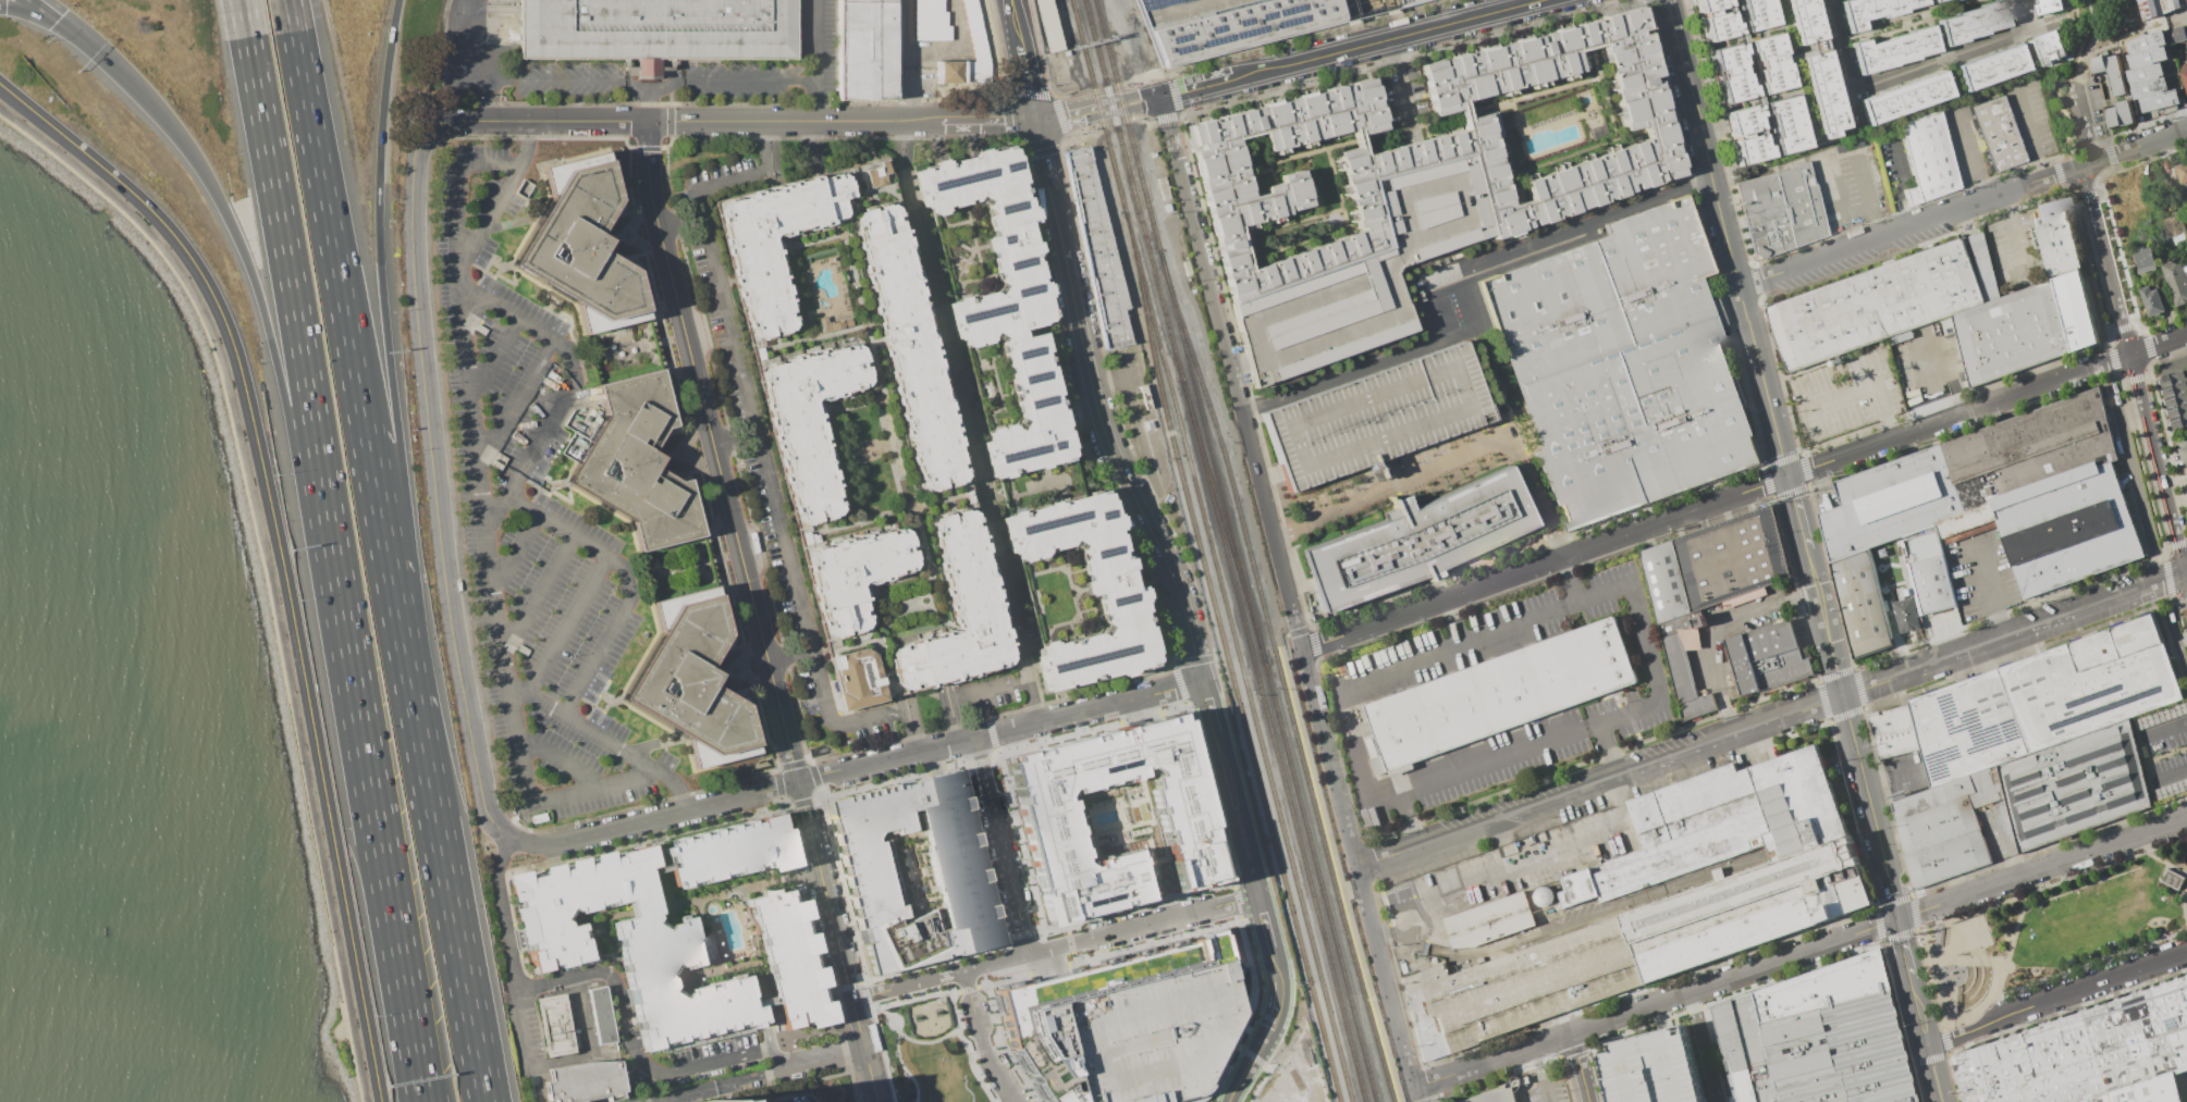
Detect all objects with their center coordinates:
building: (1933, 0)
parking lot: (2186, 0)
building: (1708, 4)
building: (2050, 5)
building: (2161, 8)
road: (45, 9)
building: (1870, 10)
road: (28, 11)
road: (2092, 13)
building: (1754, 14)
road: (2068, 14)
road: (2179, 14)
road: (2028, 15)
traffic signals: (58, 18)
road: (1910, 20)
building: (930, 21)
building: (1802, 21)
building: (1970, 22)
building: (1244, 23)
road: (1013, 24)
building: (1047, 25)
building: (1717, 26)
building: (656, 28)
building: (975, 30)
building: (2175, 35)
road: (1678, 37)
road: (1385, 39)
building: (2147, 41)
road: (2091, 44)
building: (2045, 47)
road: (96, 48)
building: (1893, 49)
building: (864, 50)
road: (1955, 55)
building: (2146, 57)
road: (815, 60)
building: (1767, 61)
road: (1845, 61)
building: (2098, 64)
building: (1989, 65)
road: (2123, 65)
building: (1728, 73)
building: (2145, 73)
building: (2114, 75)
building: (2183, 76)
road: (612, 78)
road: (1027, 83)
road: (1195, 85)
building: (2148, 87)
road: (1400, 90)
road: (1605, 91)
building: (1821, 91)
road: (908, 96)
building: (1904, 97)
road: (486, 99)
building: (2159, 100)
road: (1131, 101)
road: (1925, 108)
road: (1069, 113)
building: (2124, 113)
building: (1462, 114)
building: (2113, 116)
road: (1434, 119)
road: (1600, 119)
road: (987, 120)
traffic signals: (1034, 120)
building: (1741, 120)
road: (538, 121)
road: (794, 121)
road: (1549, 123)
railway: (1127, 125)
building: (1782, 125)
road: (2085, 126)
road: (1168, 131)
road: (2141, 133)
road: (2031, 134)
building: (1998, 135)
building: (1357, 143)
road: (1254, 146)
building: (1433, 146)
building: (1747, 149)
road: (1417, 153)
road: (1844, 153)
road: (1040, 156)
road: (1969, 157)
building: (1928, 160)
road: (1545, 162)
road: (1258, 170)
road: (752, 172)
building: (2182, 172)
road: (1273, 174)
road: (1250, 179)
road: (1336, 185)
road: (1897, 185)
road: (1316, 191)
road: (501, 199)
railway: (1135, 201)
road: (1964, 209)
building: (1781, 211)
road: (327, 223)
road: (1344, 224)
road: (1056, 225)
building: (2174, 228)
building: (2056, 236)
road: (2014, 237)
road: (1243, 240)
building: (581, 246)
road: (1250, 248)
building: (1097, 250)
road: (2104, 259)
building: (2145, 260)
building: (2186, 270)
building: (1366, 273)
parking garage: (1366, 273)
road: (1738, 274)
building: (2175, 282)
road: (1460, 287)
building: (2149, 300)
building: (1884, 302)
road: (294, 307)
building: (2077, 310)
road: (683, 329)
building: (2012, 333)
road: (268, 335)
road: (385, 340)
road: (494, 360)
building: (1624, 366)
road: (1945, 375)
road: (1494, 382)
road: (1863, 383)
road: (572, 389)
building: (2176, 396)
road: (959, 400)
road: (515, 403)
road: (1239, 408)
building: (1379, 416)
parking lot: (1379, 416)
building: (1031, 424)
building: (863, 432)
railway: (1206, 437)
building: (2183, 448)
road: (764, 457)
railway: (1225, 459)
building: (636, 462)
road: (2158, 462)
road: (1452, 463)
building: (2186, 465)
parking lot: (1425, 468)
road: (1120, 473)
traffic signals: (1790, 476)
road: (2155, 480)
road: (432, 486)
road: (1744, 493)
building: (2047, 494)
building: (1891, 504)
railway: (1220, 513)
road: (1798, 515)
parking lot: (530, 516)
road: (484, 518)
building: (1423, 540)
road: (278, 547)
railway: (1211, 550)
road: (515, 555)
road: (266, 562)
road: (389, 565)
building: (1716, 565)
building: (1920, 570)
road: (626, 584)
road: (1988, 589)
road: (538, 596)
building: (1863, 605)
building: (1908, 616)
building: (1681, 624)
road: (567, 626)
road: (1311, 630)
road: (1485, 635)
railway: (1282, 647)
road: (1286, 647)
road: (1644, 651)
road: (790, 656)
road: (766, 658)
railway: (1227, 660)
building: (1768, 660)
building: (690, 680)
building: (1686, 680)
building: (2092, 683)
road: (1180, 686)
road: (985, 692)
building: (1506, 694)
road: (411, 698)
road: (1151, 706)
road: (1135, 710)
road: (1127, 713)
road: (890, 714)
road: (1140, 717)
road: (1771, 720)
road: (1214, 723)
building: (1966, 728)
road: (2165, 728)
road: (1000, 731)
building: (1895, 732)
road: (992, 736)
road: (606, 743)
railway: (1275, 753)
road: (981, 760)
road: (560, 762)
road: (960, 764)
road: (775, 769)
road: (2171, 772)
park: (299, 773)
road: (1893, 775)
building: (2074, 785)
road: (1007, 792)
road: (1369, 792)
road: (377, 807)
road: (654, 818)
building: (1114, 818)
road: (1404, 825)
building: (1719, 826)
road: (1875, 827)
building: (1946, 829)
road: (1241, 831)
road: (2006, 842)
road: (1002, 845)
building: (730, 853)
road: (816, 859)
railway: (1314, 863)
road: (1225, 864)
road: (1355, 866)
road: (1512, 866)
road: (2041, 868)
building: (913, 871)
building: (2173, 882)
road: (1232, 886)
railway: (1334, 887)
road: (1238, 902)
road: (450, 907)
road: (1239, 918)
road: (1238, 921)
building: (1491, 925)
road: (1036, 930)
road: (1066, 930)
road: (1265, 930)
road: (1020, 933)
park: (2054, 933)
road: (1008, 938)
road: (1070, 943)
building: (630, 946)
building: (704, 948)
road: (1054, 948)
building: (1635, 951)
road: (1073, 957)
building: (791, 958)
road: (1054, 959)
road: (1037, 964)
road: (942, 965)
road: (515, 967)
road: (1047, 968)
road: (944, 975)
road: (1733, 975)
road: (846, 981)
road: (864, 981)
road: (861, 983)
road: (981, 986)
road: (948, 987)
road: (967, 989)
road: (956, 992)
road: (2057, 995)
road: (923, 996)
street lamp: (959, 1012)
building: (1030, 1013)
road: (1659, 1016)
building: (603, 1023)
building: (554, 1025)
road: (996, 1026)
building: (1152, 1035)
parking garage: (1152, 1035)
road: (1263, 1036)
road: (911, 1039)
road: (980, 1039)
building: (1819, 1040)
road: (629, 1041)
road: (1236, 1045)
road: (1701, 1047)
park: (927, 1048)
road: (409, 1050)
road: (415, 1050)
road: (591, 1051)
building: (2088, 1054)
road: (1252, 1056)
road: (1490, 1060)
road: (806, 1061)
street lamp: (895, 1062)
road: (867, 1064)
road: (1578, 1066)
road: (904, 1068)
building: (1651, 1068)
parking lot: (1651, 1068)
street lamp: (981, 1073)
road: (1538, 1074)
road: (733, 1079)
flagpole: (1516, 1079)
building: (588, 1081)
road: (1261, 1081)
parking lot: (1546, 1091)
road: (1423, 1092)
road: (1201, 1097)
building: (1491, 1097)
road: (1202, 1099)
building: (708, 1101)

